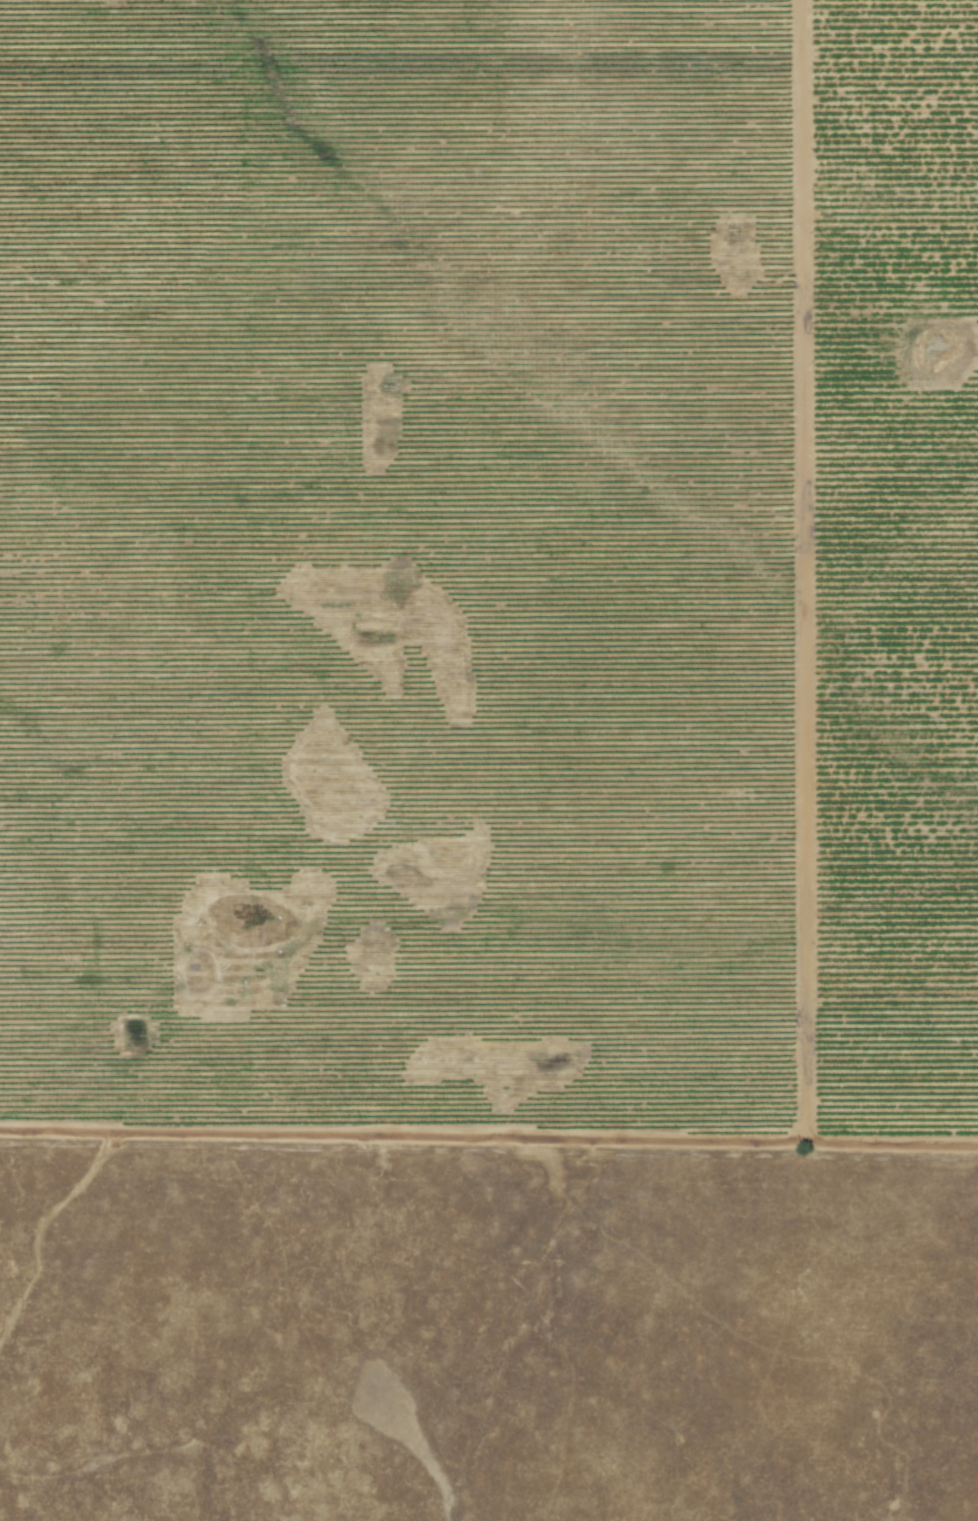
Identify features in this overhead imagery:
road: (489, 1137)

